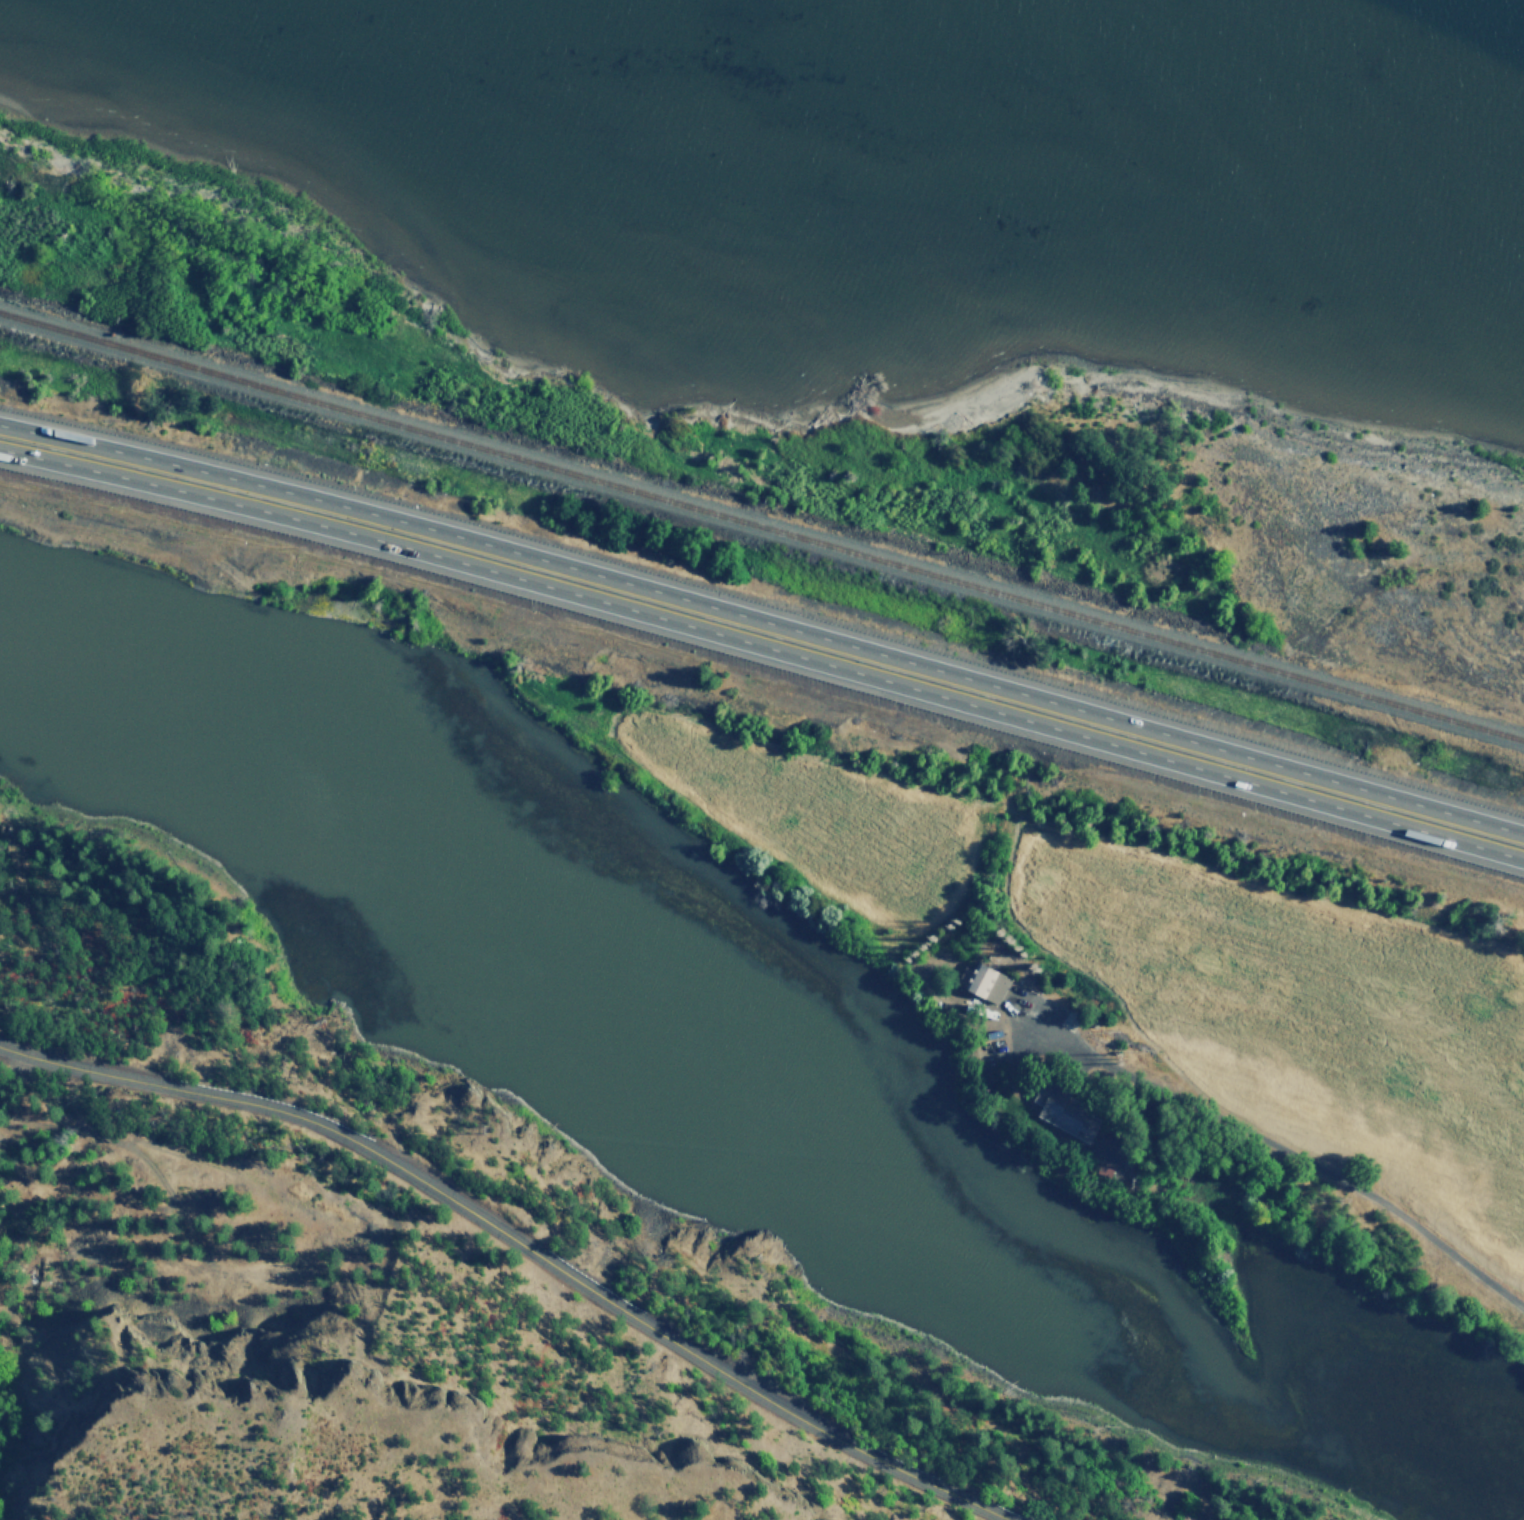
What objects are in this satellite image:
railway: (762, 526)
road: (763, 622)
road: (764, 647)
building: (985, 985)
building: (1061, 1112)
road: (1318, 1166)
road: (520, 1243)

